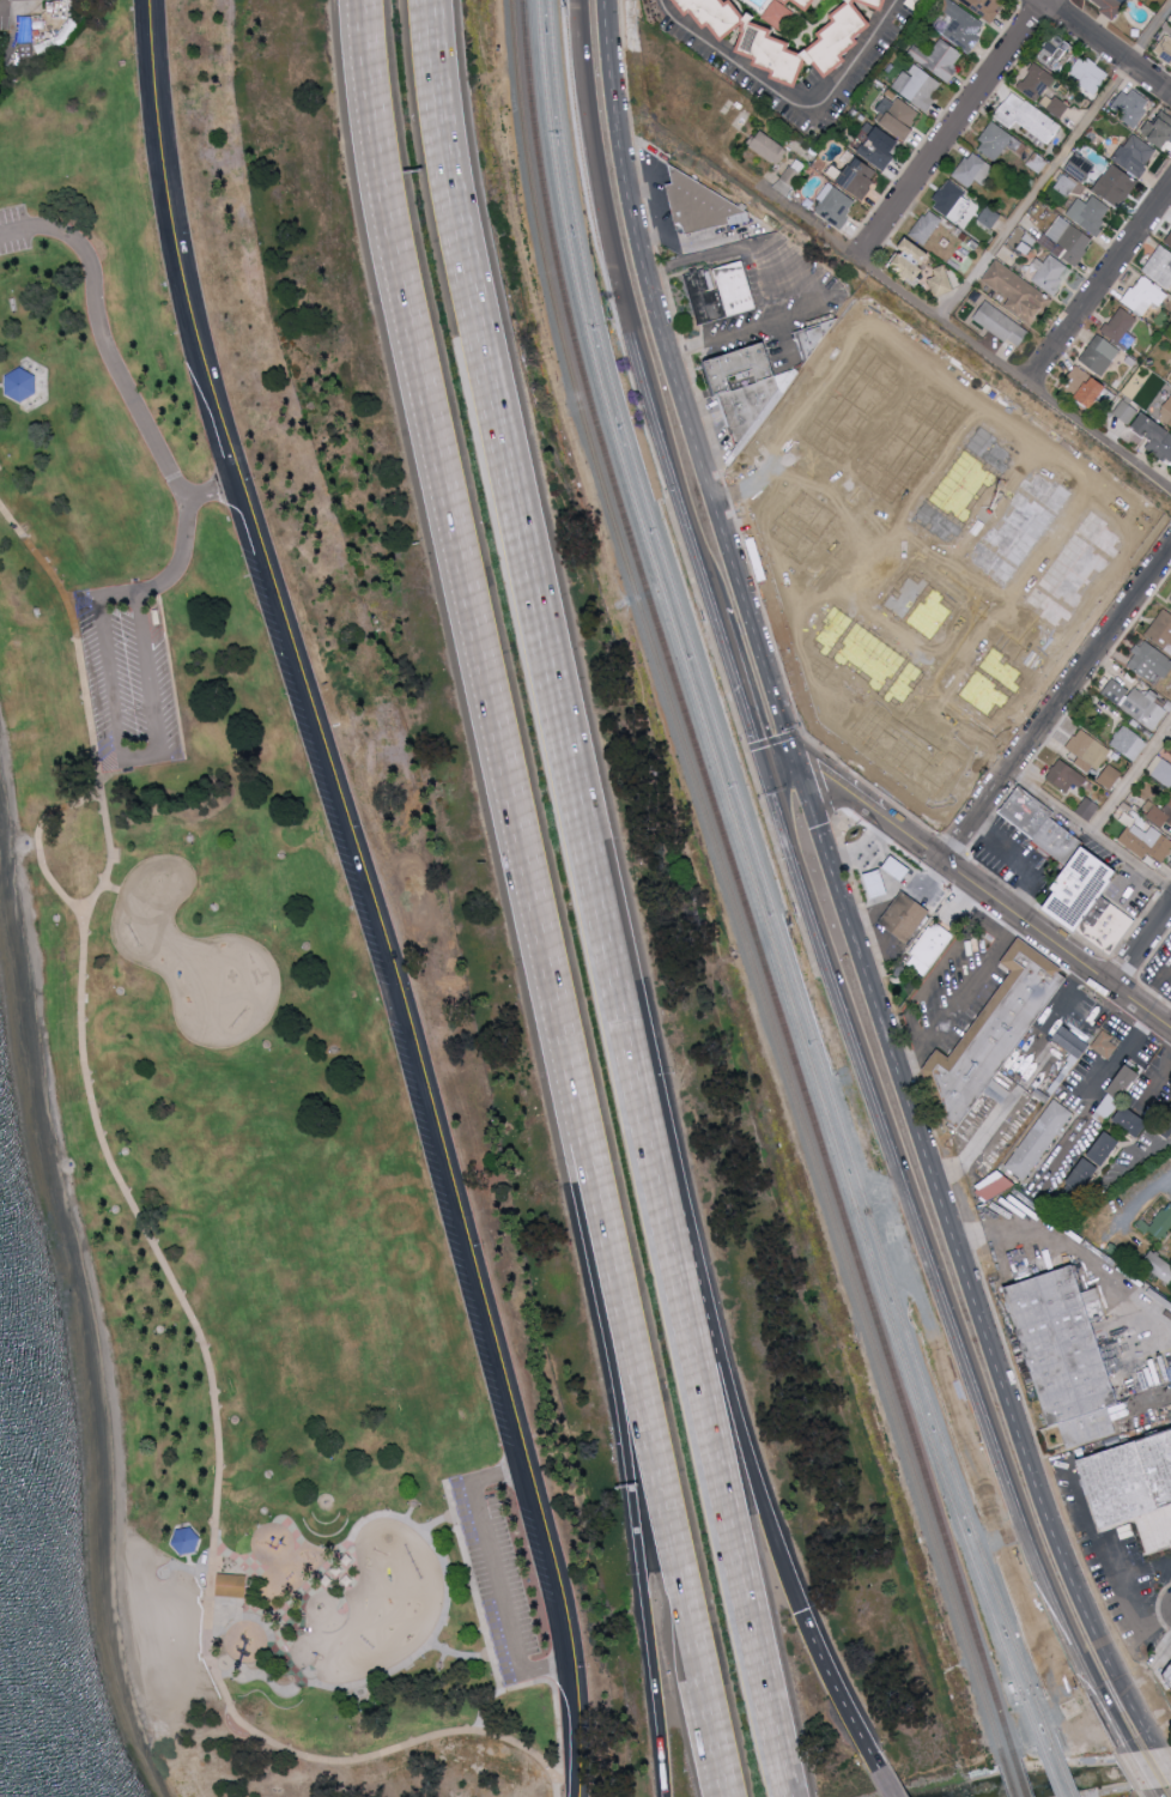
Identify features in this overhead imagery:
building: (884, 1)
building: (806, 4)
building: (983, 6)
building: (1110, 7)
road: (13, 11)
building: (722, 16)
building: (960, 25)
building: (25, 32)
road: (12, 40)
building: (771, 44)
road: (1104, 48)
building: (1164, 48)
building: (1057, 52)
building: (939, 59)
building: (1088, 73)
building: (1036, 81)
building: (918, 86)
road: (788, 101)
building: (1052, 104)
building: (1130, 107)
building: (898, 116)
building: (1027, 117)
building: (1159, 128)
road: (953, 131)
building: (995, 141)
building: (878, 145)
building: (769, 147)
building: (1135, 155)
road: (1056, 165)
building: (1080, 165)
building: (973, 170)
building: (860, 176)
building: (788, 179)
building: (1116, 184)
building: (952, 201)
building: (835, 205)
building: (1090, 212)
building: (702, 213)
road: (799, 213)
building: (989, 217)
building: (927, 226)
parking lot: (13, 230)
building: (1066, 240)
building: (1169, 241)
road: (844, 249)
building: (912, 259)
building: (1159, 266)
building: (1050, 274)
building: (941, 280)
road: (1099, 284)
road: (812, 286)
building: (718, 292)
building: (1017, 292)
building: (1145, 295)
road: (627, 309)
railway: (569, 323)
building: (1001, 325)
railway: (558, 326)
building: (1121, 327)
road: (783, 339)
building: (811, 339)
building: (1099, 353)
road: (910, 361)
building: (739, 368)
road: (672, 374)
road: (1015, 377)
building: (19, 386)
road: (1, 387)
building: (1086, 387)
building: (751, 407)
building: (850, 407)
road: (139, 409)
building: (1166, 412)
road: (864, 431)
building: (769, 434)
building: (1155, 436)
building: (908, 449)
building: (747, 462)
building: (0, 467)
road: (935, 467)
road: (779, 488)
road: (212, 489)
building: (960, 491)
road: (977, 515)
building: (802, 524)
building: (1018, 532)
road: (825, 537)
road: (832, 541)
road: (922, 547)
building: (927, 555)
road: (1044, 555)
road: (874, 564)
road: (904, 564)
road: (961, 564)
building: (782, 569)
building: (1072, 573)
road: (529, 599)
road: (465, 609)
building: (921, 609)
road: (867, 611)
road: (779, 621)
building: (1161, 630)
road: (942, 655)
building: (867, 657)
building: (1149, 661)
building: (845, 677)
parking lot: (131, 678)
road: (740, 678)
building: (989, 684)
building: (1115, 691)
road: (944, 700)
road: (1054, 703)
building: (821, 706)
building: (1145, 707)
road: (911, 737)
building: (1128, 742)
building: (1087, 751)
road: (141, 755)
building: (905, 755)
road: (794, 757)
road: (767, 762)
building: (1160, 769)
building: (1064, 775)
building: (1110, 776)
road: (785, 778)
traffic signals: (800, 778)
road: (1129, 778)
traffic signals: (771, 779)
road: (817, 782)
road: (856, 801)
building: (1087, 810)
building: (1160, 815)
building: (1040, 823)
road: (1087, 831)
road: (37, 842)
road: (843, 854)
road: (1021, 865)
building: (897, 870)
railway: (760, 873)
railway: (750, 877)
road: (886, 878)
building: (875, 884)
road: (1129, 887)
road: (372, 895)
building: (1092, 901)
road: (872, 912)
building: (904, 918)
road: (1024, 925)
road: (1141, 948)
building: (930, 950)
road: (939, 967)
road: (1154, 986)
parking lot: (380, 987)
road: (954, 993)
building: (993, 1037)
building: (1106, 1046)
road: (1118, 1054)
park: (225, 1084)
building: (1118, 1093)
road: (1012, 1100)
building: (1131, 1123)
building: (1166, 1127)
building: (1039, 1142)
building: (1104, 1150)
road: (1142, 1161)
building: (979, 1169)
building: (1082, 1175)
building: (996, 1185)
building: (976, 1188)
road: (1146, 1192)
railway: (835, 1193)
railway: (824, 1197)
building: (1158, 1226)
building: (1114, 1251)
building: (1131, 1253)
road: (1067, 1256)
building: (1158, 1267)
road: (963, 1270)
road: (165, 1273)
road: (934, 1273)
building: (1067, 1355)
building: (1149, 1382)
road: (722, 1405)
road: (645, 1446)
building: (1134, 1489)
road: (716, 1496)
road: (633, 1506)
road: (436, 1524)
building: (184, 1542)
road: (493, 1573)
road: (1124, 1577)
parking lot: (498, 1583)
building: (230, 1586)
road: (471, 1587)
road: (1134, 1611)
road: (419, 1653)
road: (457, 1658)
road: (552, 1676)
building: (1169, 1680)
road: (546, 1682)
road: (1153, 1686)
road: (831, 1692)
road: (706, 1737)
road: (1164, 1761)
railway: (1060, 1763)
railway: (1048, 1766)
railway: (1017, 1772)
railway: (1006, 1773)
road: (1141, 1773)
road: (566, 1775)
road: (880, 1783)
road: (554, 1786)
road: (1152, 1793)

